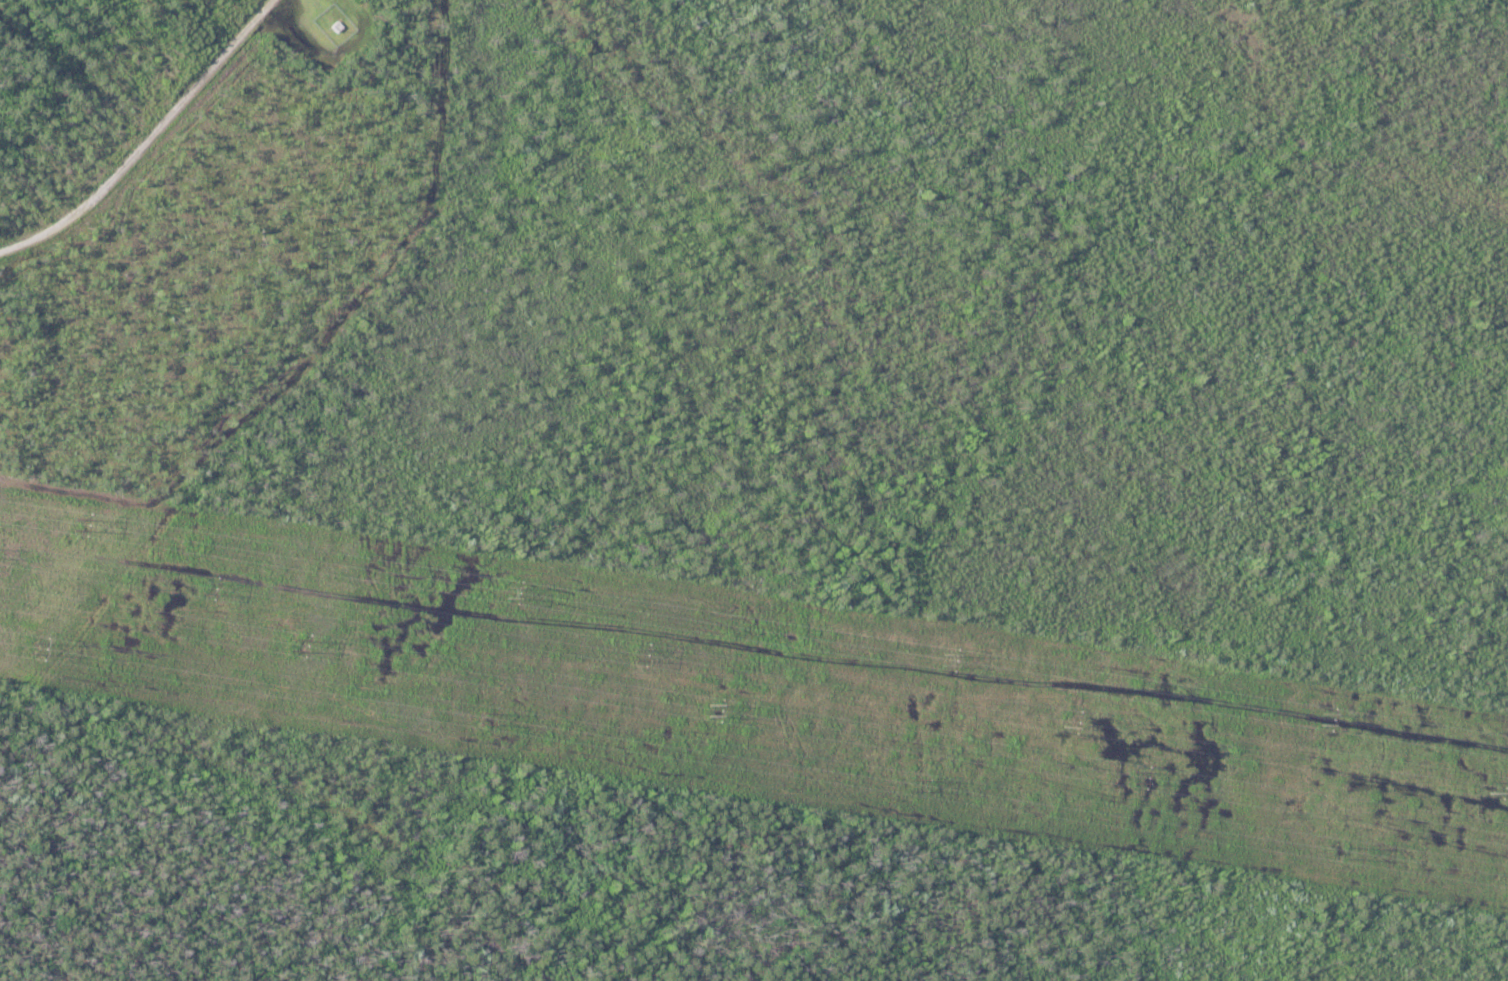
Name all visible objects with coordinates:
road: (149, 141)
power tower: (77, 523)
power tower: (205, 585)
power tower: (510, 588)
power tower: (295, 637)
power tower: (36, 646)
power tower: (636, 653)
power tower: (945, 653)
power tower: (712, 708)
power tower: (1323, 712)
power tower: (486, 717)
power tower: (1065, 718)
power tower: (1134, 774)
power tower: (913, 784)
power tower: (1490, 786)
power tower: (1348, 853)

